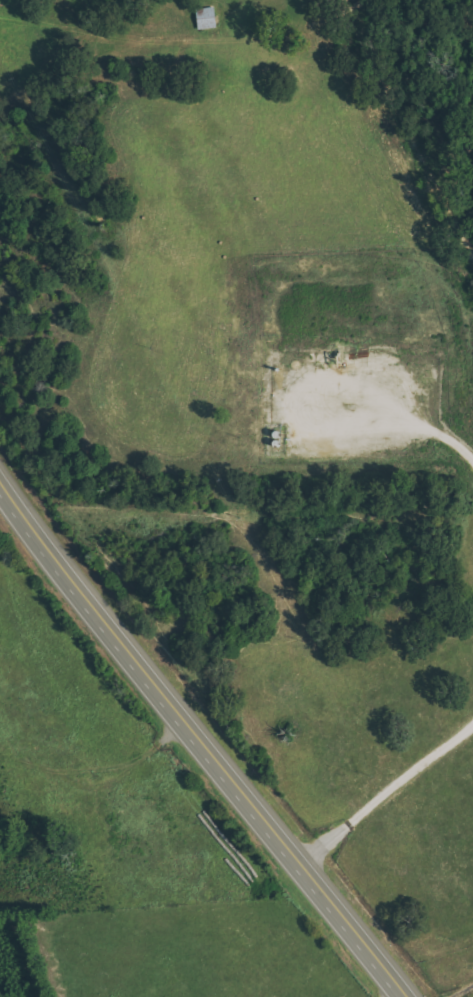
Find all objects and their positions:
building: (205, 17)
road: (463, 132)
road: (310, 136)
road: (202, 736)

